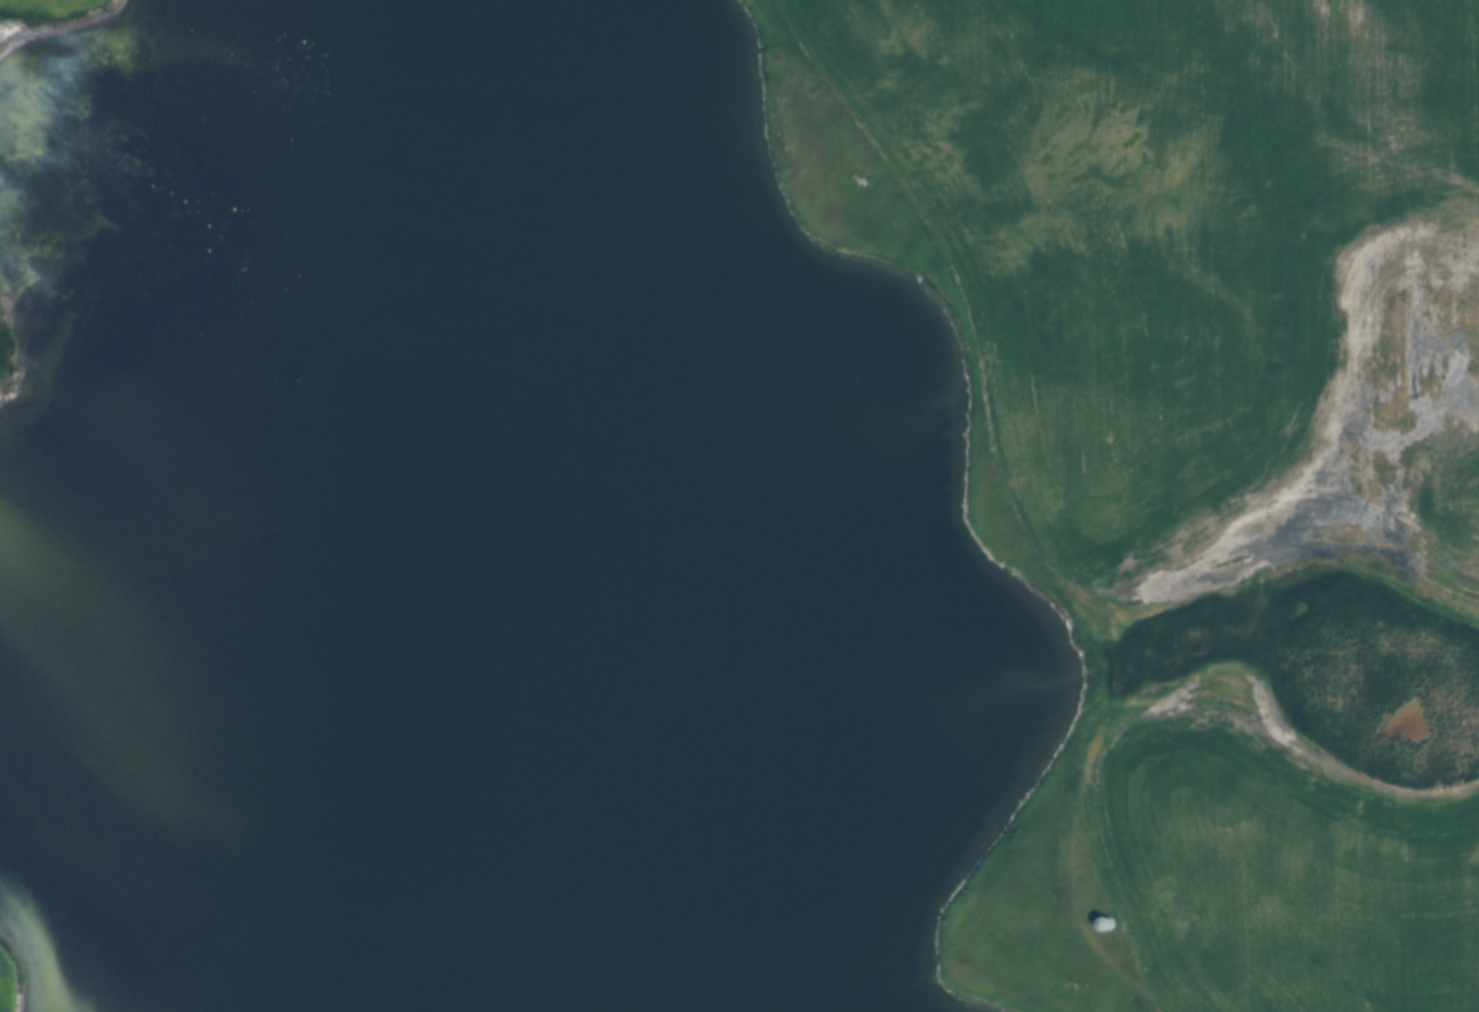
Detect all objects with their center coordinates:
building: (1107, 925)

